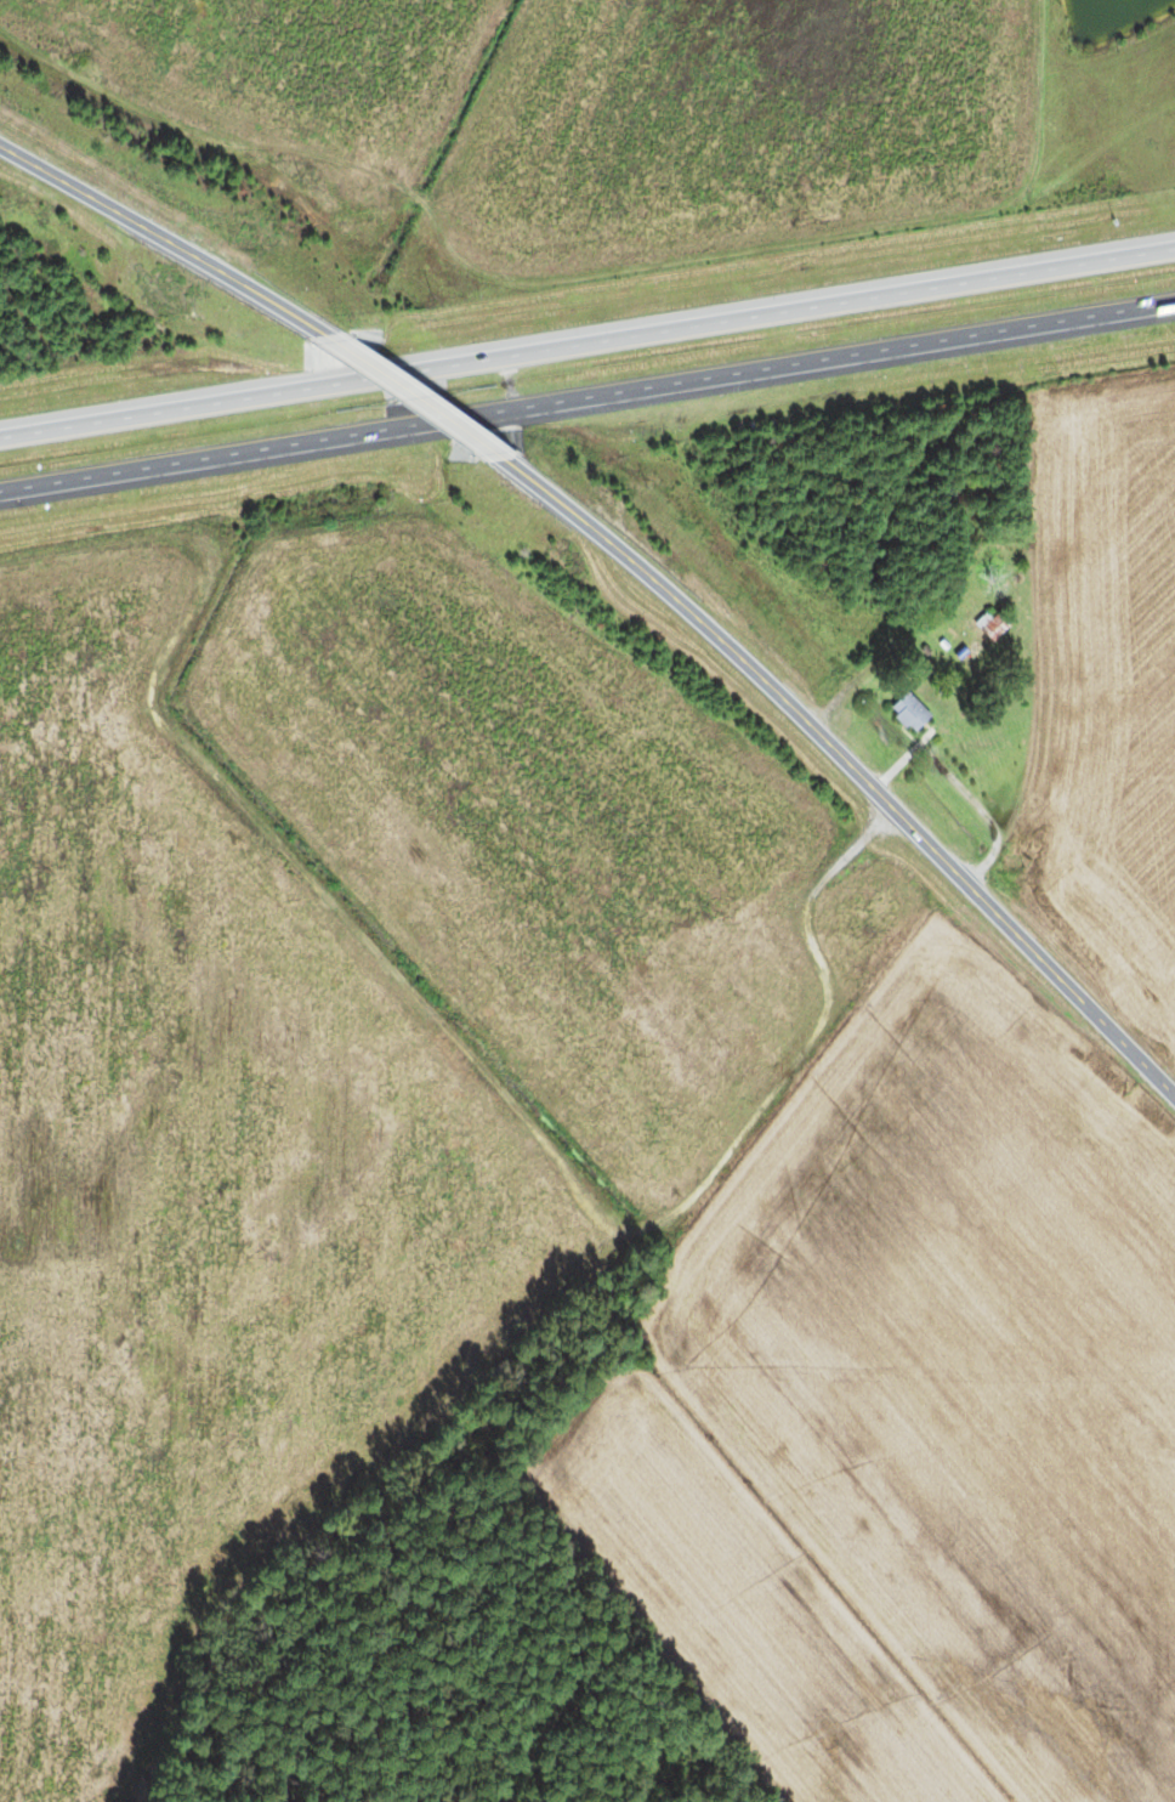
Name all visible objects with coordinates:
road: (163, 237)
road: (586, 328)
road: (413, 395)
road: (586, 401)
building: (980, 637)
building: (906, 713)
road: (850, 763)
road: (511, 1116)

